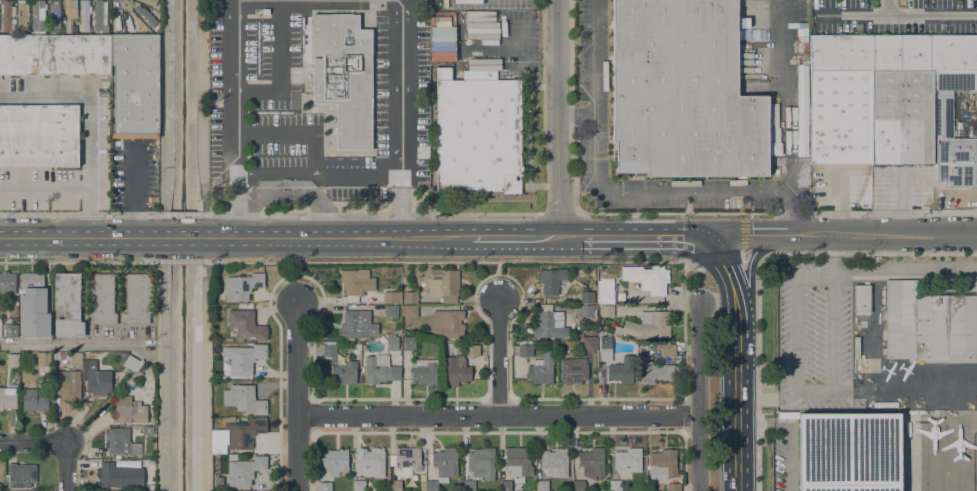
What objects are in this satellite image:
road: (401, 1)
building: (147, 2)
building: (445, 3)
building: (436, 4)
road: (887, 8)
building: (69, 14)
building: (22, 15)
building: (38, 15)
building: (54, 16)
road: (895, 16)
building: (7, 17)
building: (85, 17)
building: (99, 18)
building: (148, 20)
road: (401, 34)
building: (442, 34)
building: (893, 51)
building: (54, 55)
road: (280, 72)
building: (343, 76)
building: (134, 86)
building: (682, 92)
road: (200, 103)
road: (570, 106)
road: (576, 117)
road: (789, 117)
building: (944, 117)
road: (556, 118)
building: (840, 118)
building: (901, 118)
road: (231, 119)
road: (90, 124)
building: (477, 133)
road: (292, 135)
building: (39, 136)
road: (273, 174)
road: (357, 179)
road: (46, 188)
road: (597, 190)
road: (204, 210)
road: (373, 213)
road: (560, 213)
road: (677, 213)
road: (787, 213)
road: (886, 213)
road: (79, 214)
road: (182, 214)
road: (205, 226)
road: (632, 235)
road: (829, 235)
road: (515, 236)
road: (570, 236)
road: (339, 237)
road: (79, 238)
road: (182, 238)
road: (205, 255)
road: (738, 255)
road: (82, 261)
road: (472, 261)
road: (181, 262)
road: (757, 265)
road: (725, 272)
road: (498, 277)
road: (296, 278)
building: (646, 278)
building: (551, 280)
building: (7, 283)
building: (444, 284)
building: (354, 285)
building: (242, 286)
building: (605, 291)
road: (749, 295)
building: (391, 297)
building: (410, 297)
building: (587, 297)
building: (101, 298)
building: (138, 298)
building: (862, 299)
building: (548, 300)
building: (0, 306)
building: (33, 306)
building: (67, 306)
building: (390, 311)
building: (587, 311)
building: (606, 311)
building: (409, 313)
building: (548, 323)
building: (246, 324)
building: (447, 324)
building: (599, 324)
building: (928, 324)
building: (355, 325)
building: (647, 325)
building: (11, 331)
building: (588, 341)
road: (72, 343)
building: (391, 343)
building: (409, 344)
building: (605, 348)
building: (856, 348)
building: (524, 349)
road: (737, 349)
building: (668, 350)
building: (472, 351)
building: (358, 352)
road: (498, 354)
building: (43, 359)
building: (76, 359)
building: (244, 359)
building: (13, 360)
building: (128, 361)
building: (335, 368)
building: (379, 369)
building: (456, 370)
building: (622, 370)
building: (540, 371)
building: (573, 371)
building: (424, 372)
building: (655, 372)
airport: (876, 374)
building: (133, 378)
building: (96, 379)
road: (205, 382)
building: (67, 386)
road: (296, 393)
road: (698, 397)
building: (7, 398)
building: (243, 399)
building: (33, 401)
building: (128, 411)
road: (496, 414)
road: (737, 429)
building: (147, 431)
building: (236, 434)
road: (29, 440)
road: (62, 441)
building: (118, 441)
airport hangar: (848, 452)
building: (848, 452)
airport taxiway: (945, 452)
building: (628, 459)
building: (406, 460)
building: (335, 462)
building: (371, 462)
building: (554, 462)
building: (481, 463)
building: (518, 463)
building: (592, 463)
building: (663, 464)
road: (66, 467)
building: (442, 467)
building: (244, 471)
building: (22, 476)
building: (120, 476)
building: (394, 485)
building: (468, 485)
building: (324, 486)
building: (358, 486)
building: (505, 486)
building: (542, 486)
building: (578, 486)
building: (615, 486)
building: (422, 487)
building: (673, 487)

